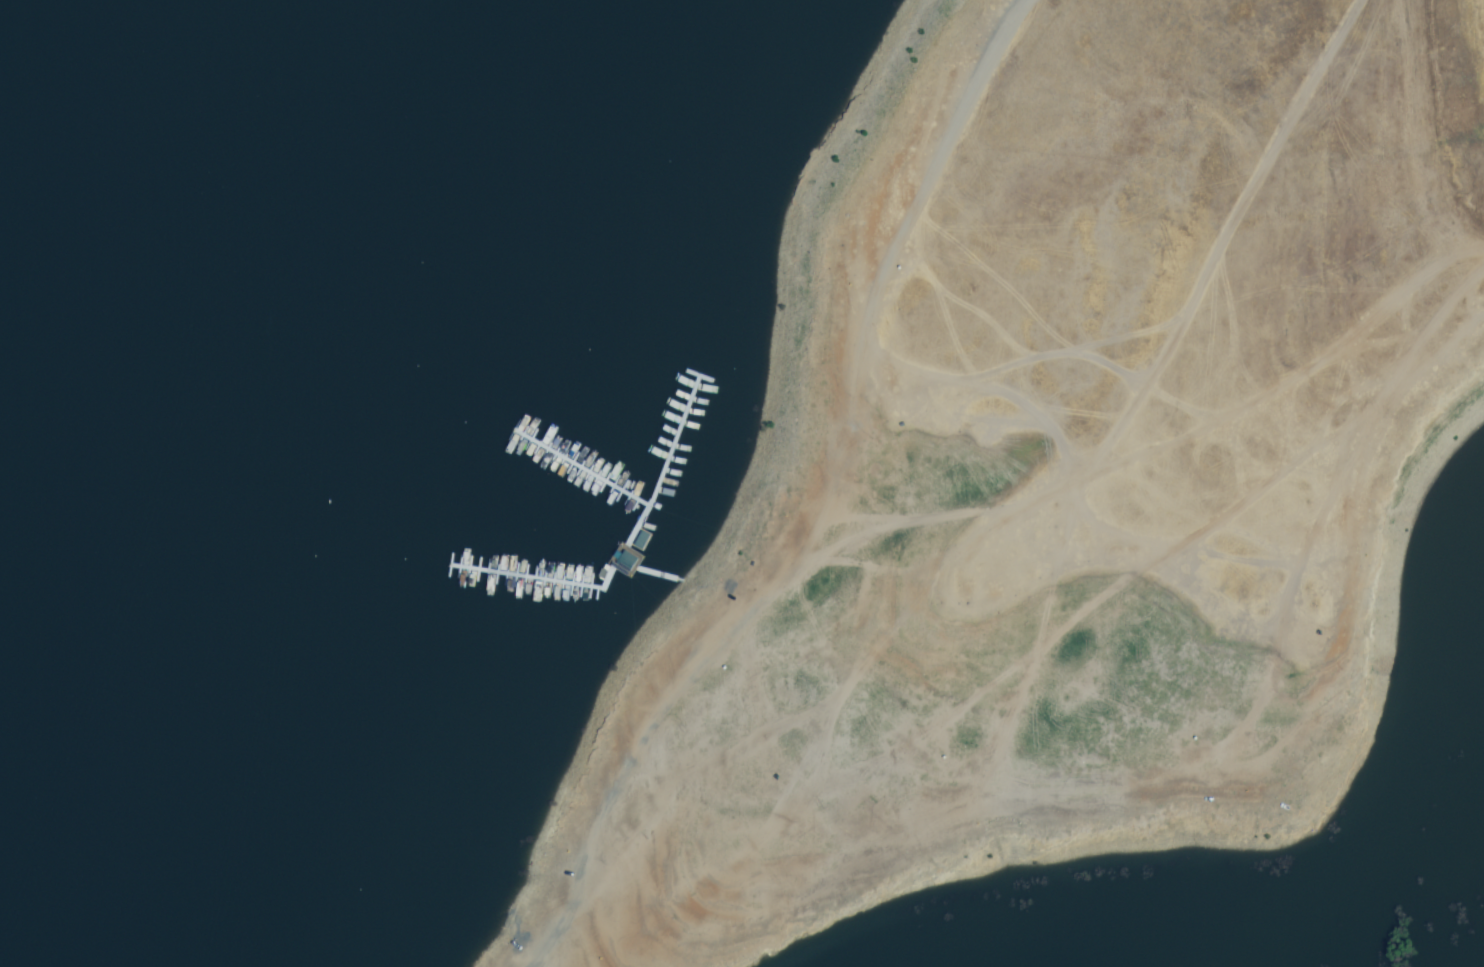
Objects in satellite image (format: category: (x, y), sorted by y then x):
river: (1347, 857)

